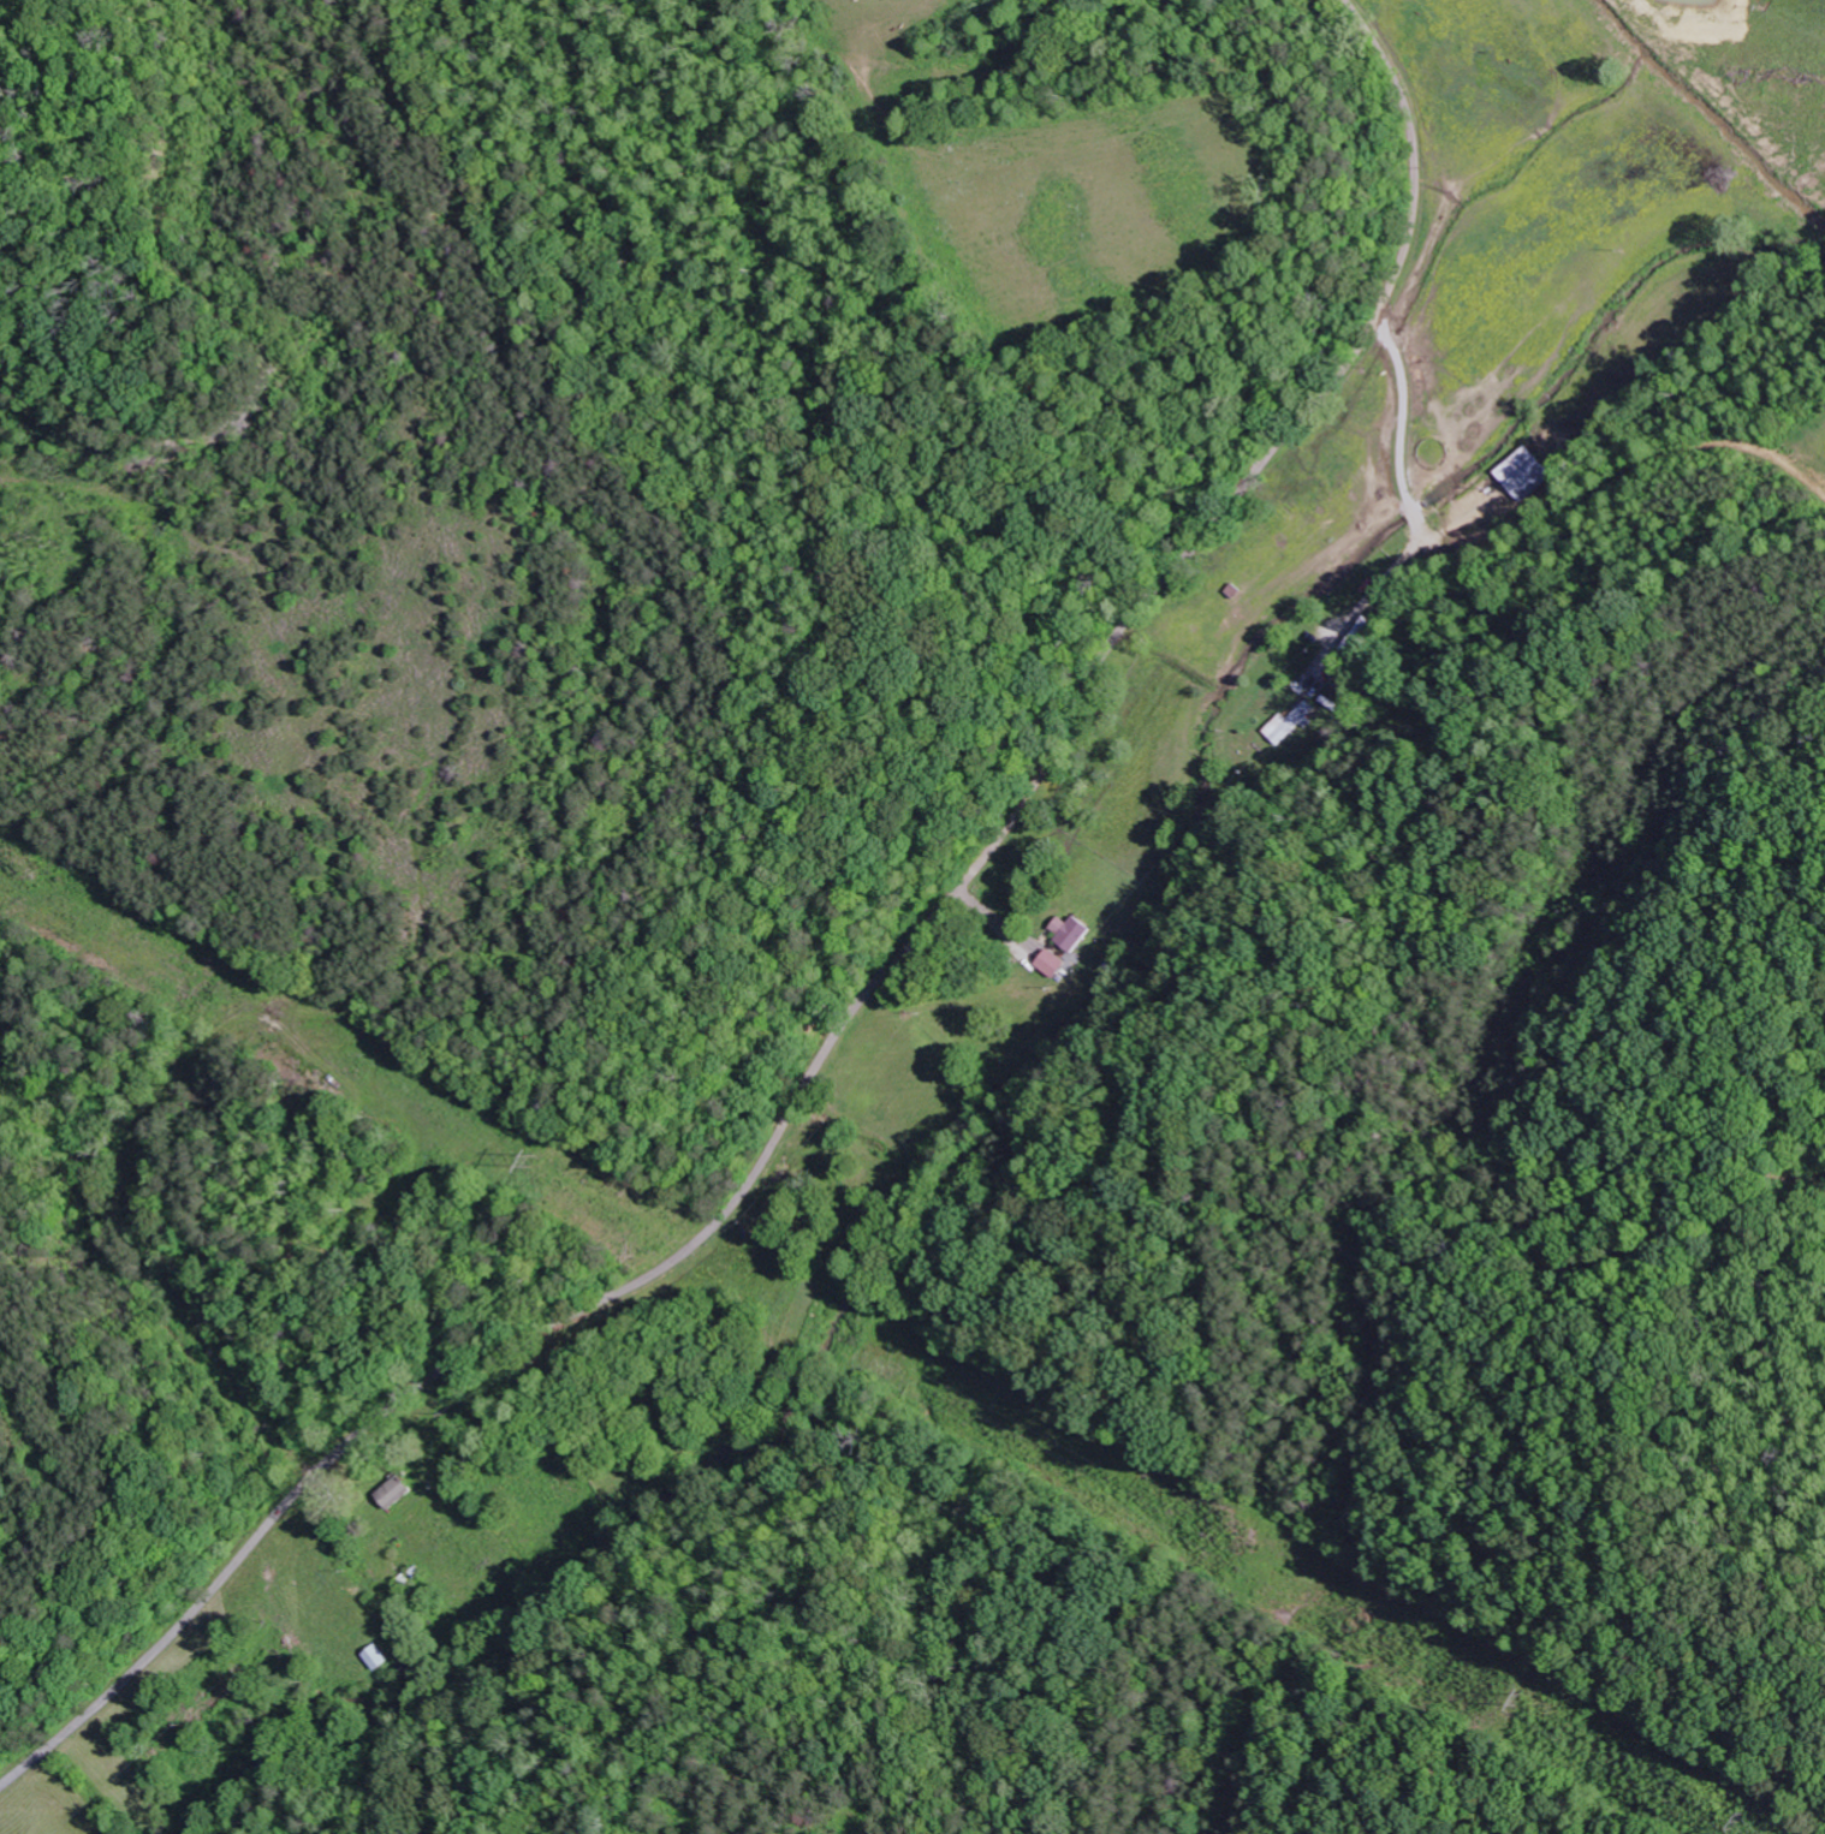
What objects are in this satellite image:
road: (1423, 190)
building: (1524, 472)
building: (1294, 722)
building: (1053, 963)
power tower: (546, 1159)
road: (761, 1177)
building: (394, 1493)
power tower: (1530, 1698)
power tower: (1765, 1826)

